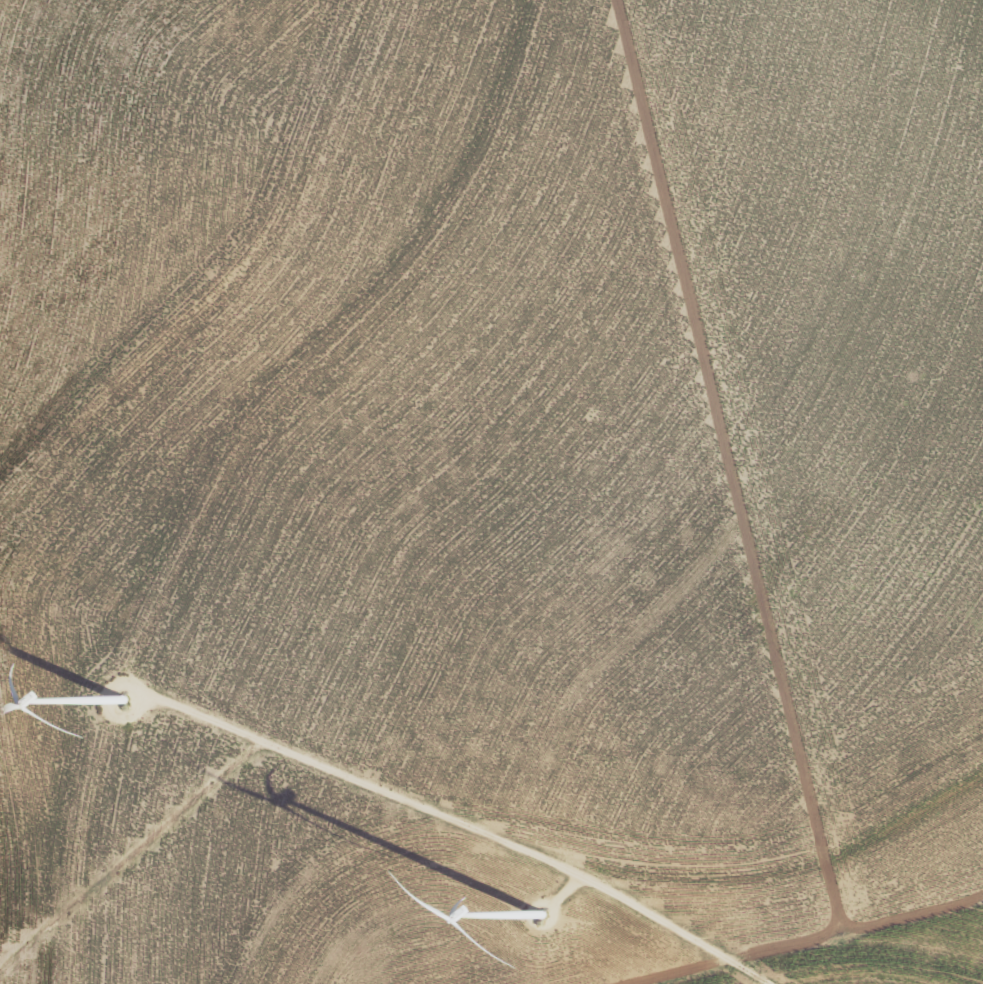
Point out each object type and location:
wind turbine: (112, 699)
road: (472, 827)
wind turbine: (537, 920)

